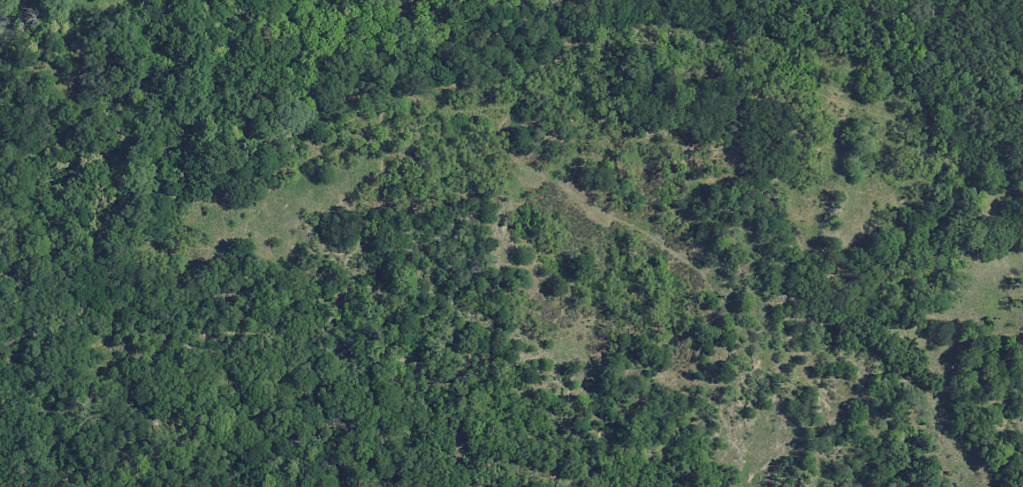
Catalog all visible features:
river: (12, 16)

